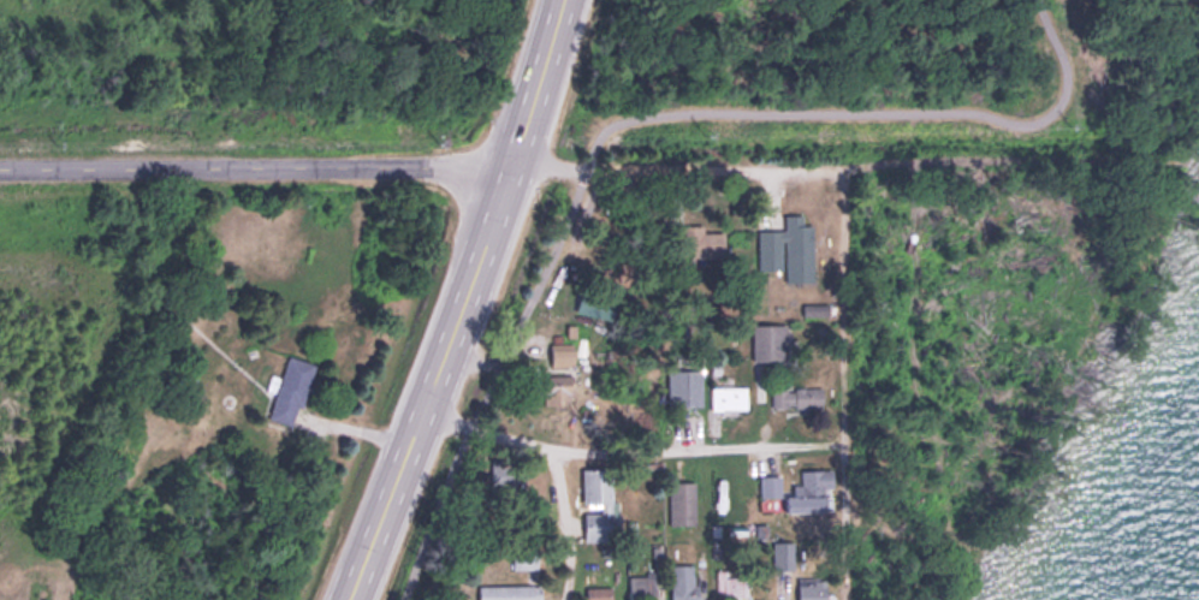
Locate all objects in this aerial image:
road: (625, 113)
road: (593, 164)
building: (702, 239)
building: (788, 248)
road: (459, 302)
building: (595, 303)
building: (815, 308)
building: (770, 339)
building: (562, 352)
road: (845, 382)
building: (557, 387)
building: (689, 387)
building: (291, 388)
building: (729, 396)
building: (796, 396)
road: (634, 450)
building: (508, 471)
building: (770, 483)
building: (812, 491)
building: (681, 501)
building: (607, 505)
road: (569, 525)
building: (524, 557)
building: (684, 581)
building: (731, 582)
building: (642, 584)
building: (812, 588)
building: (509, 590)
building: (604, 593)

